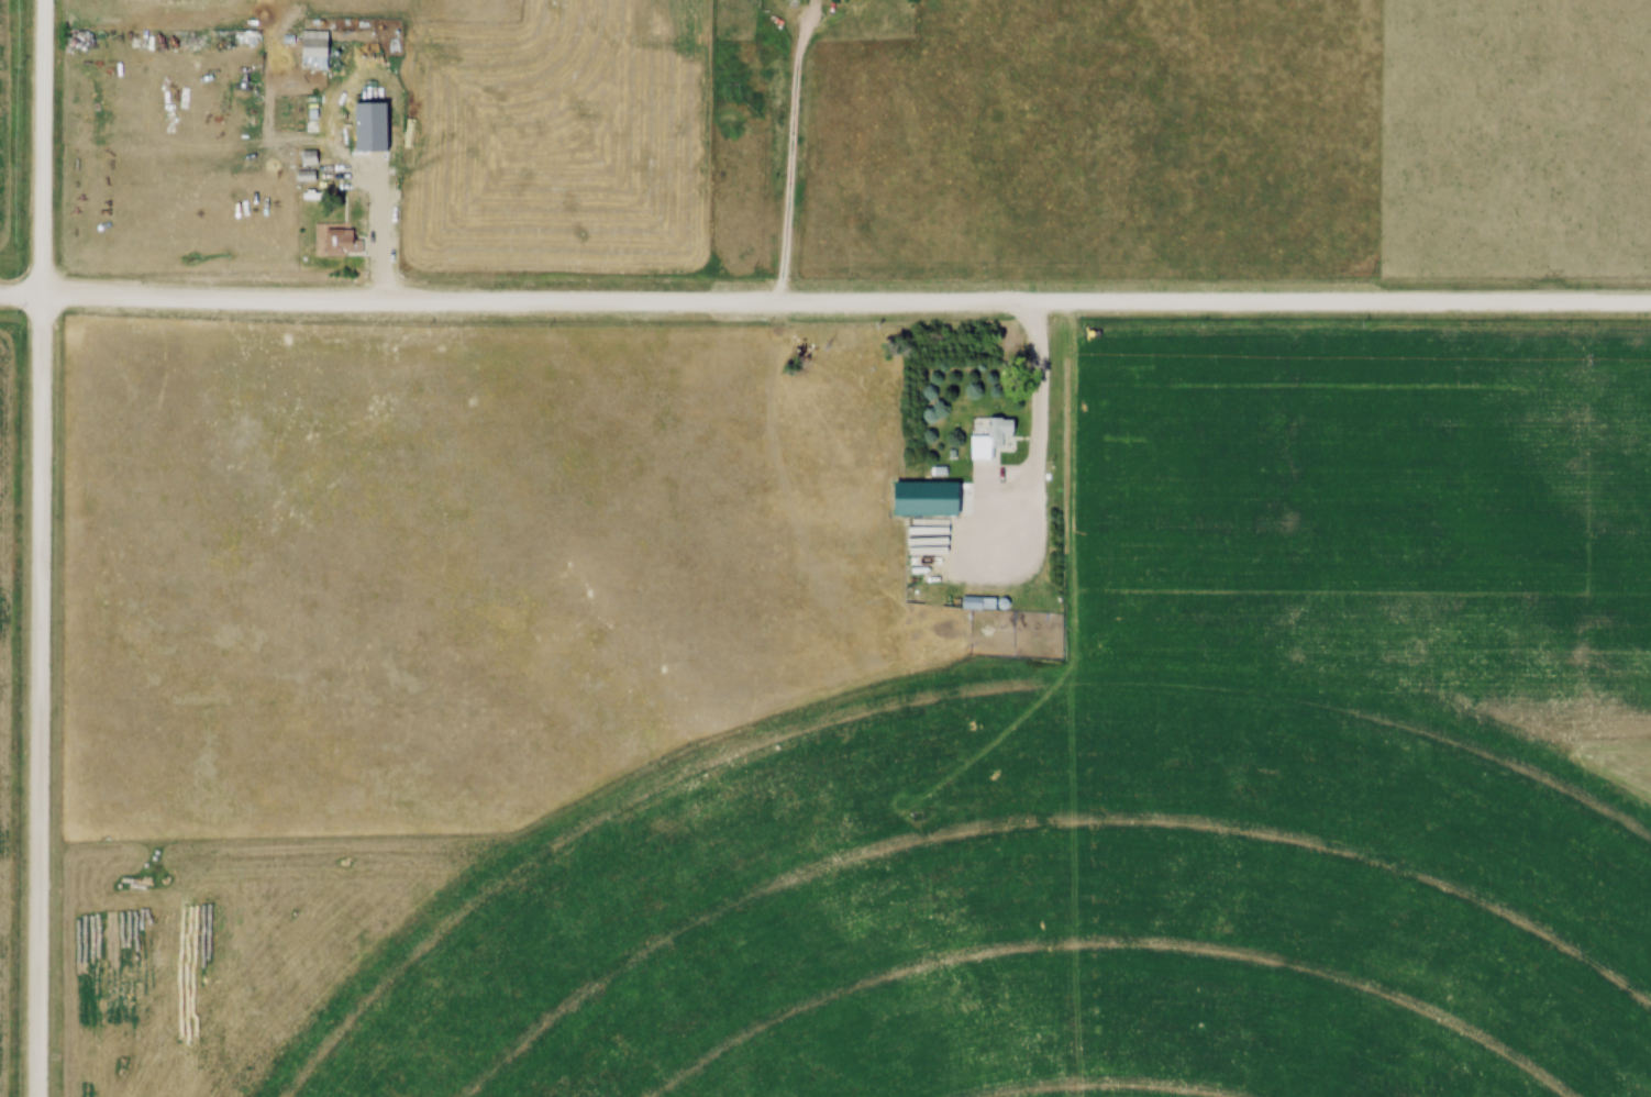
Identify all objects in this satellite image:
building: (793, 0)
building: (313, 51)
building: (301, 99)
building: (299, 122)
road: (785, 157)
building: (302, 176)
road: (377, 224)
building: (339, 242)
road: (824, 307)
road: (1037, 389)
building: (993, 440)
road: (37, 548)
building: (982, 602)

